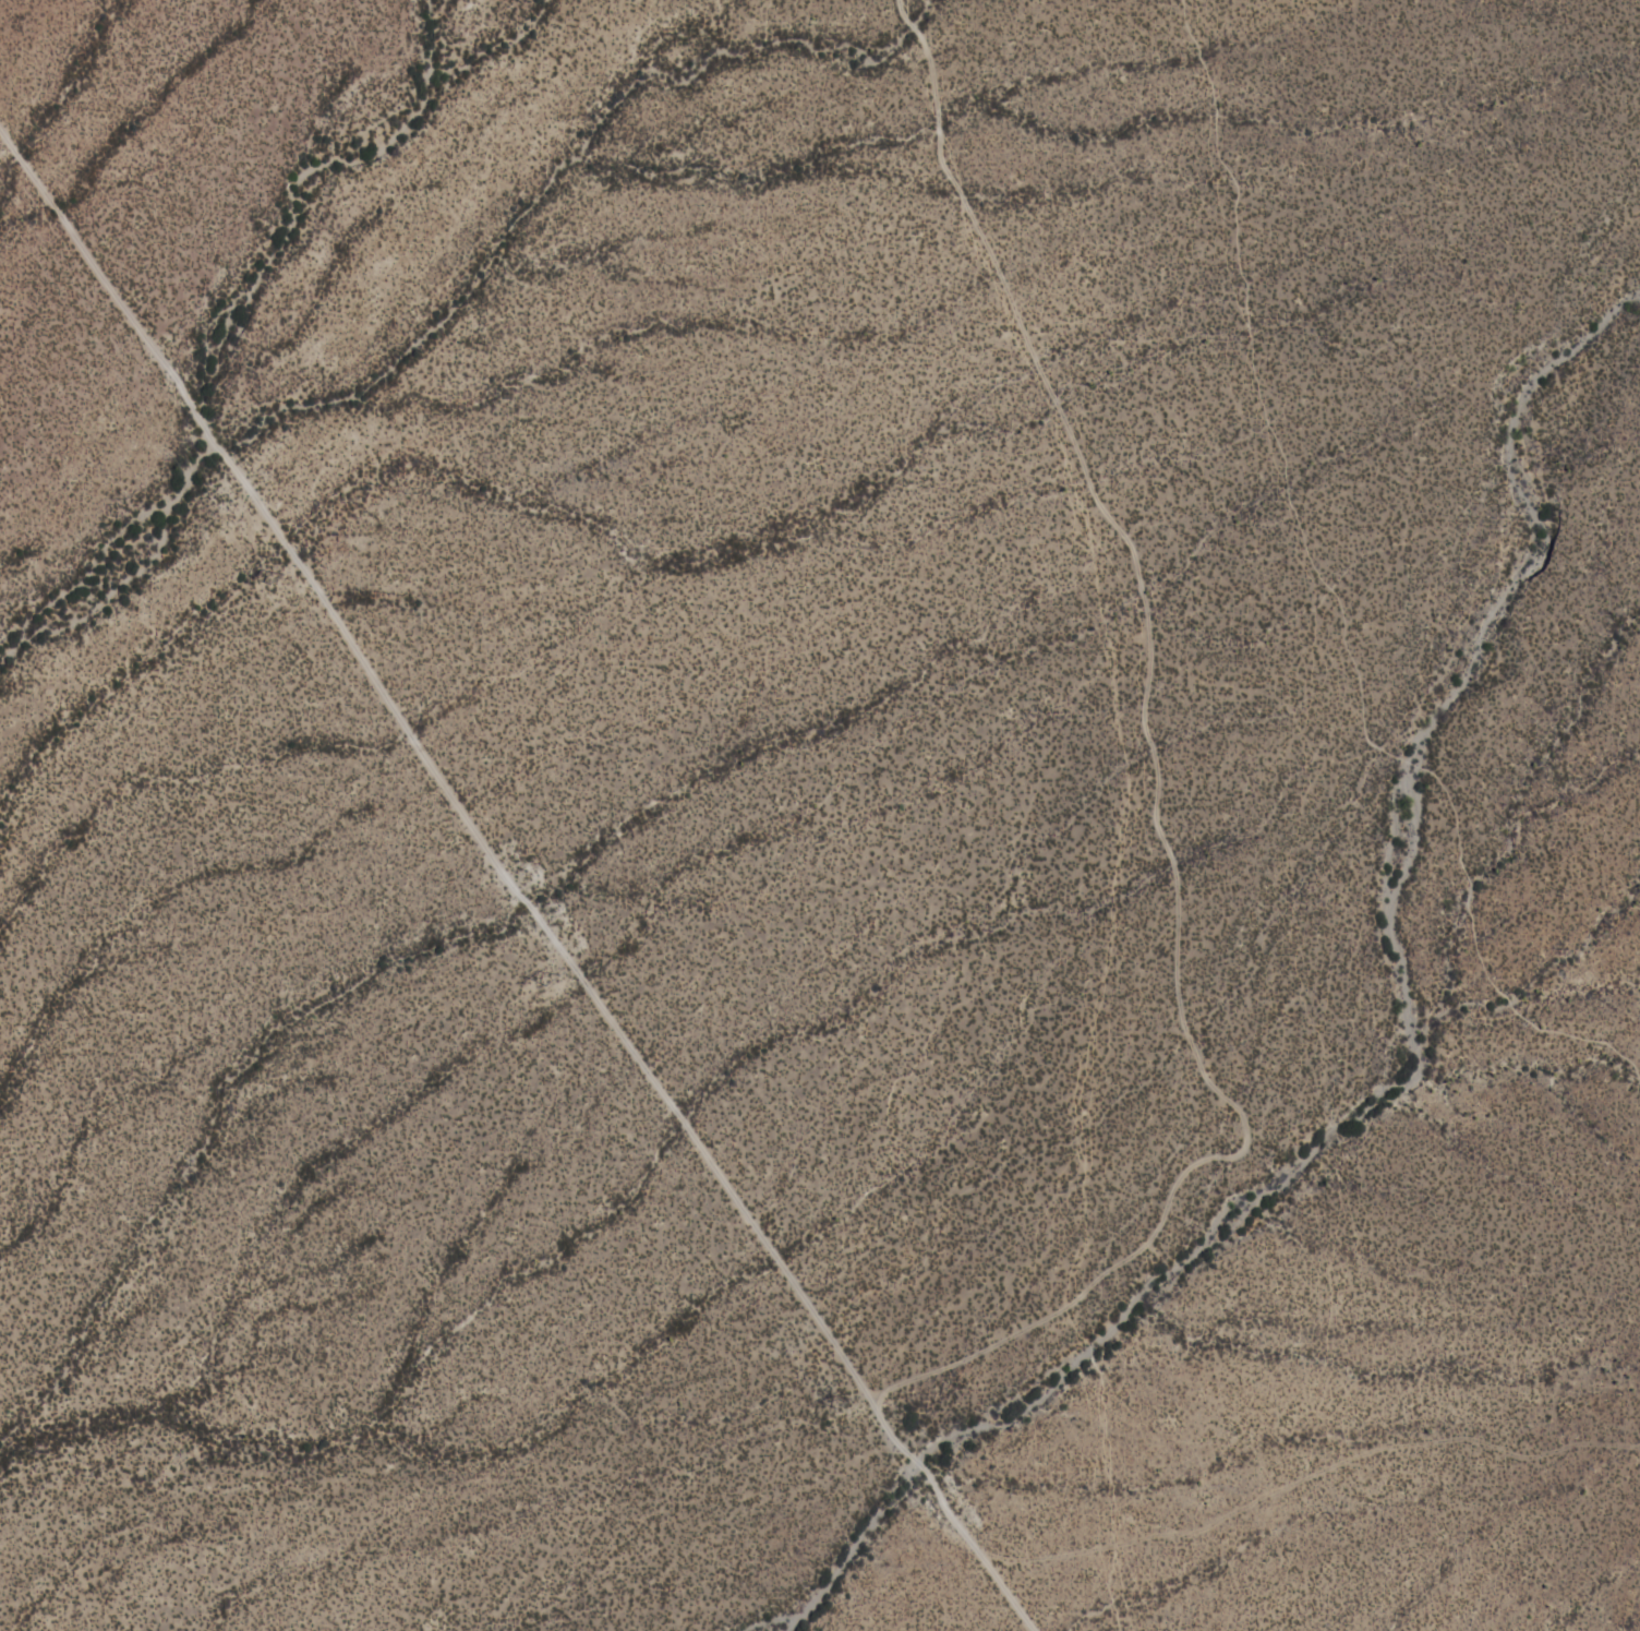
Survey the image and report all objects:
power tower: (277, 572)
road: (1338, 604)
road: (1155, 789)
road: (512, 883)
power tower: (553, 974)
power tower: (845, 1401)

